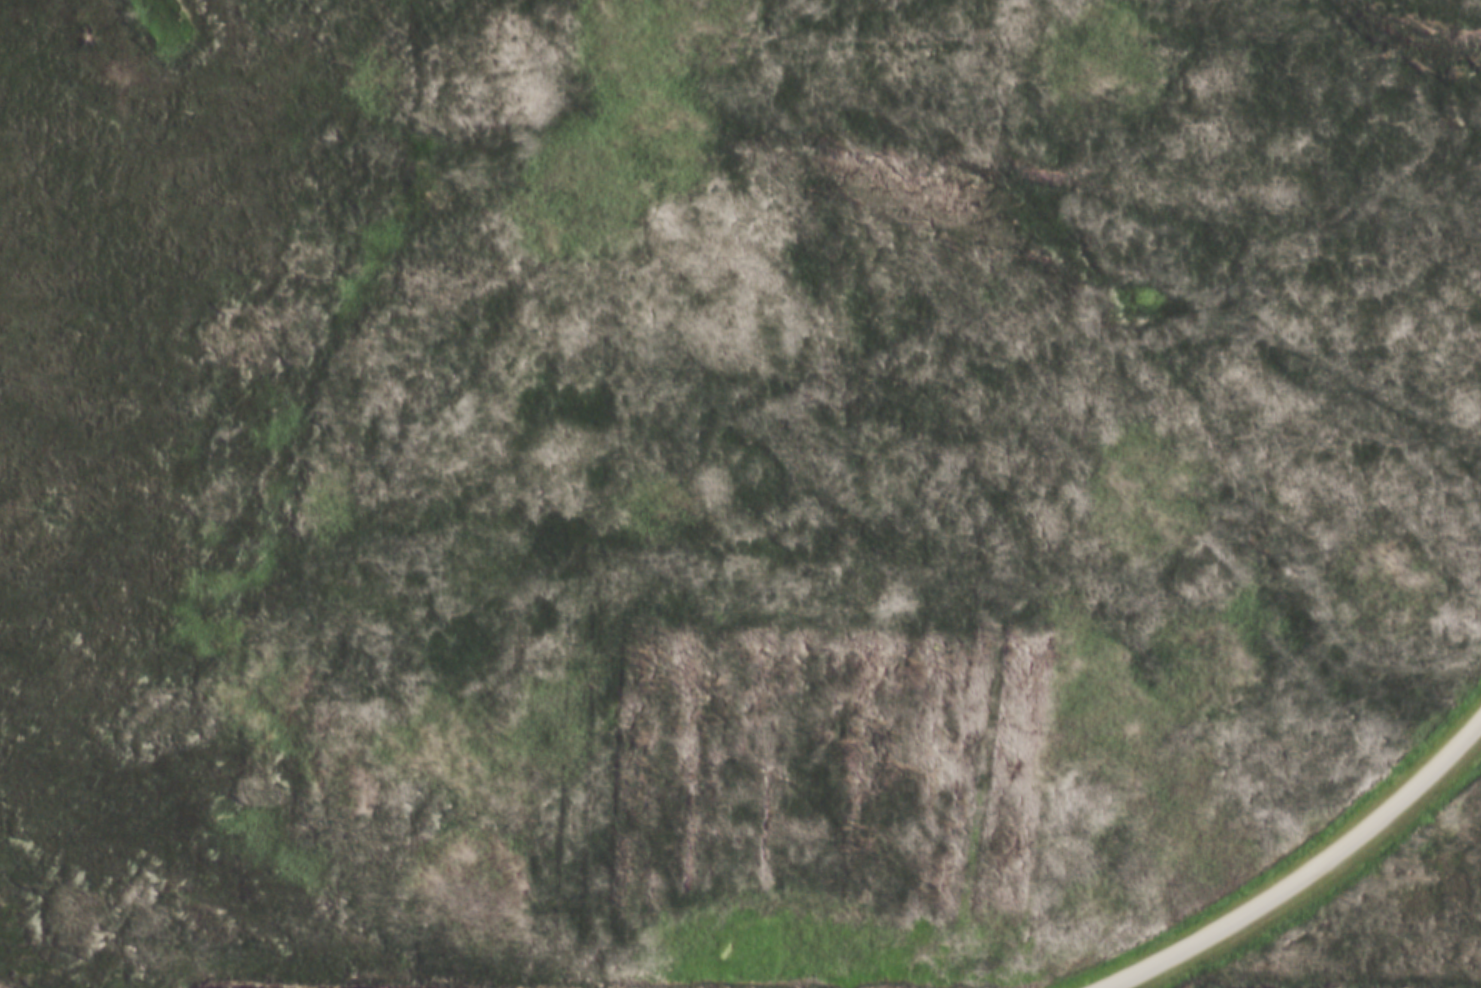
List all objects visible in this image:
road: (1303, 872)

